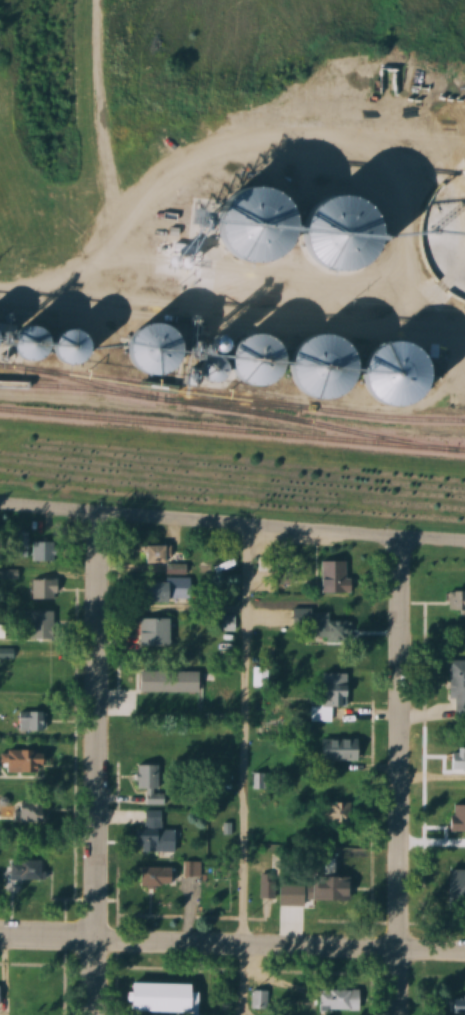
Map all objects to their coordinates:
road: (113, 149)
road: (232, 307)
railway: (94, 383)
railway: (232, 396)
railway: (239, 403)
railway: (218, 406)
railway: (232, 430)
road: (232, 527)
building: (44, 551)
building: (167, 558)
building: (337, 577)
building: (44, 588)
building: (170, 590)
building: (458, 602)
building: (317, 622)
building: (43, 624)
building: (157, 631)
building: (34, 673)
building: (458, 687)
building: (333, 688)
building: (167, 691)
building: (29, 721)
building: (341, 749)
building: (216, 750)
building: (29, 760)
building: (459, 760)
road: (93, 763)
road: (243, 772)
road: (399, 779)
building: (258, 781)
building: (150, 784)
building: (29, 812)
building: (336, 813)
building: (0, 814)
building: (459, 818)
building: (156, 835)
building: (27, 871)
building: (157, 876)
building: (192, 877)
building: (458, 886)
building: (341, 888)
road: (232, 944)
building: (4, 996)
building: (169, 998)
building: (259, 999)
building: (342, 1000)
building: (459, 1005)

